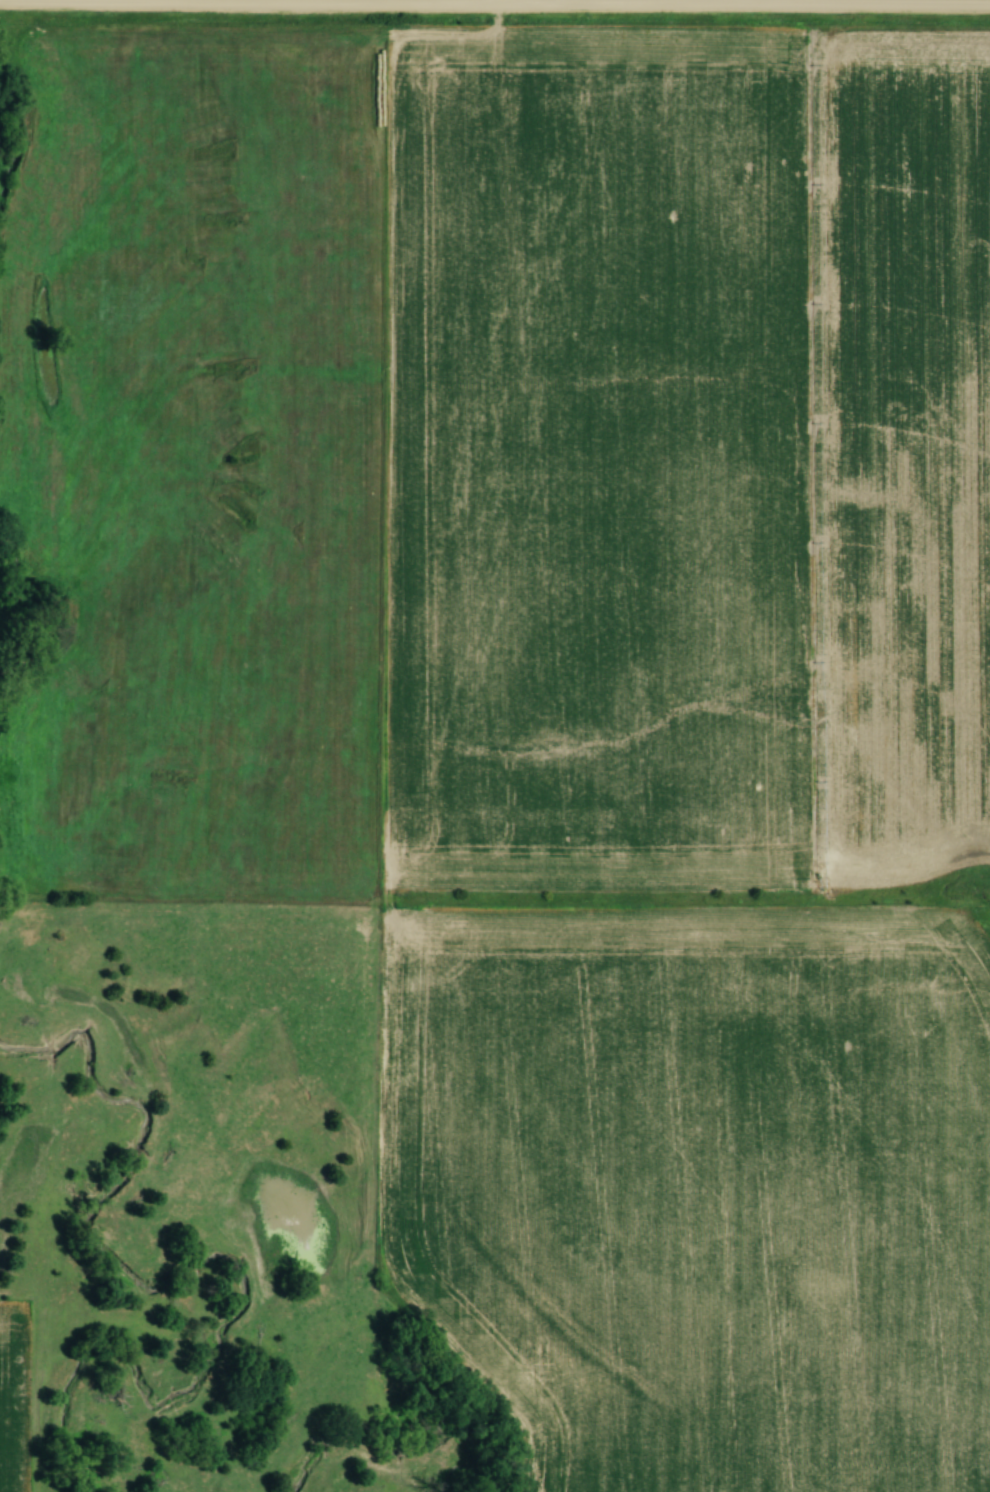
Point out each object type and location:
road: (481, 4)
road: (575, 5)
road: (495, 8)

